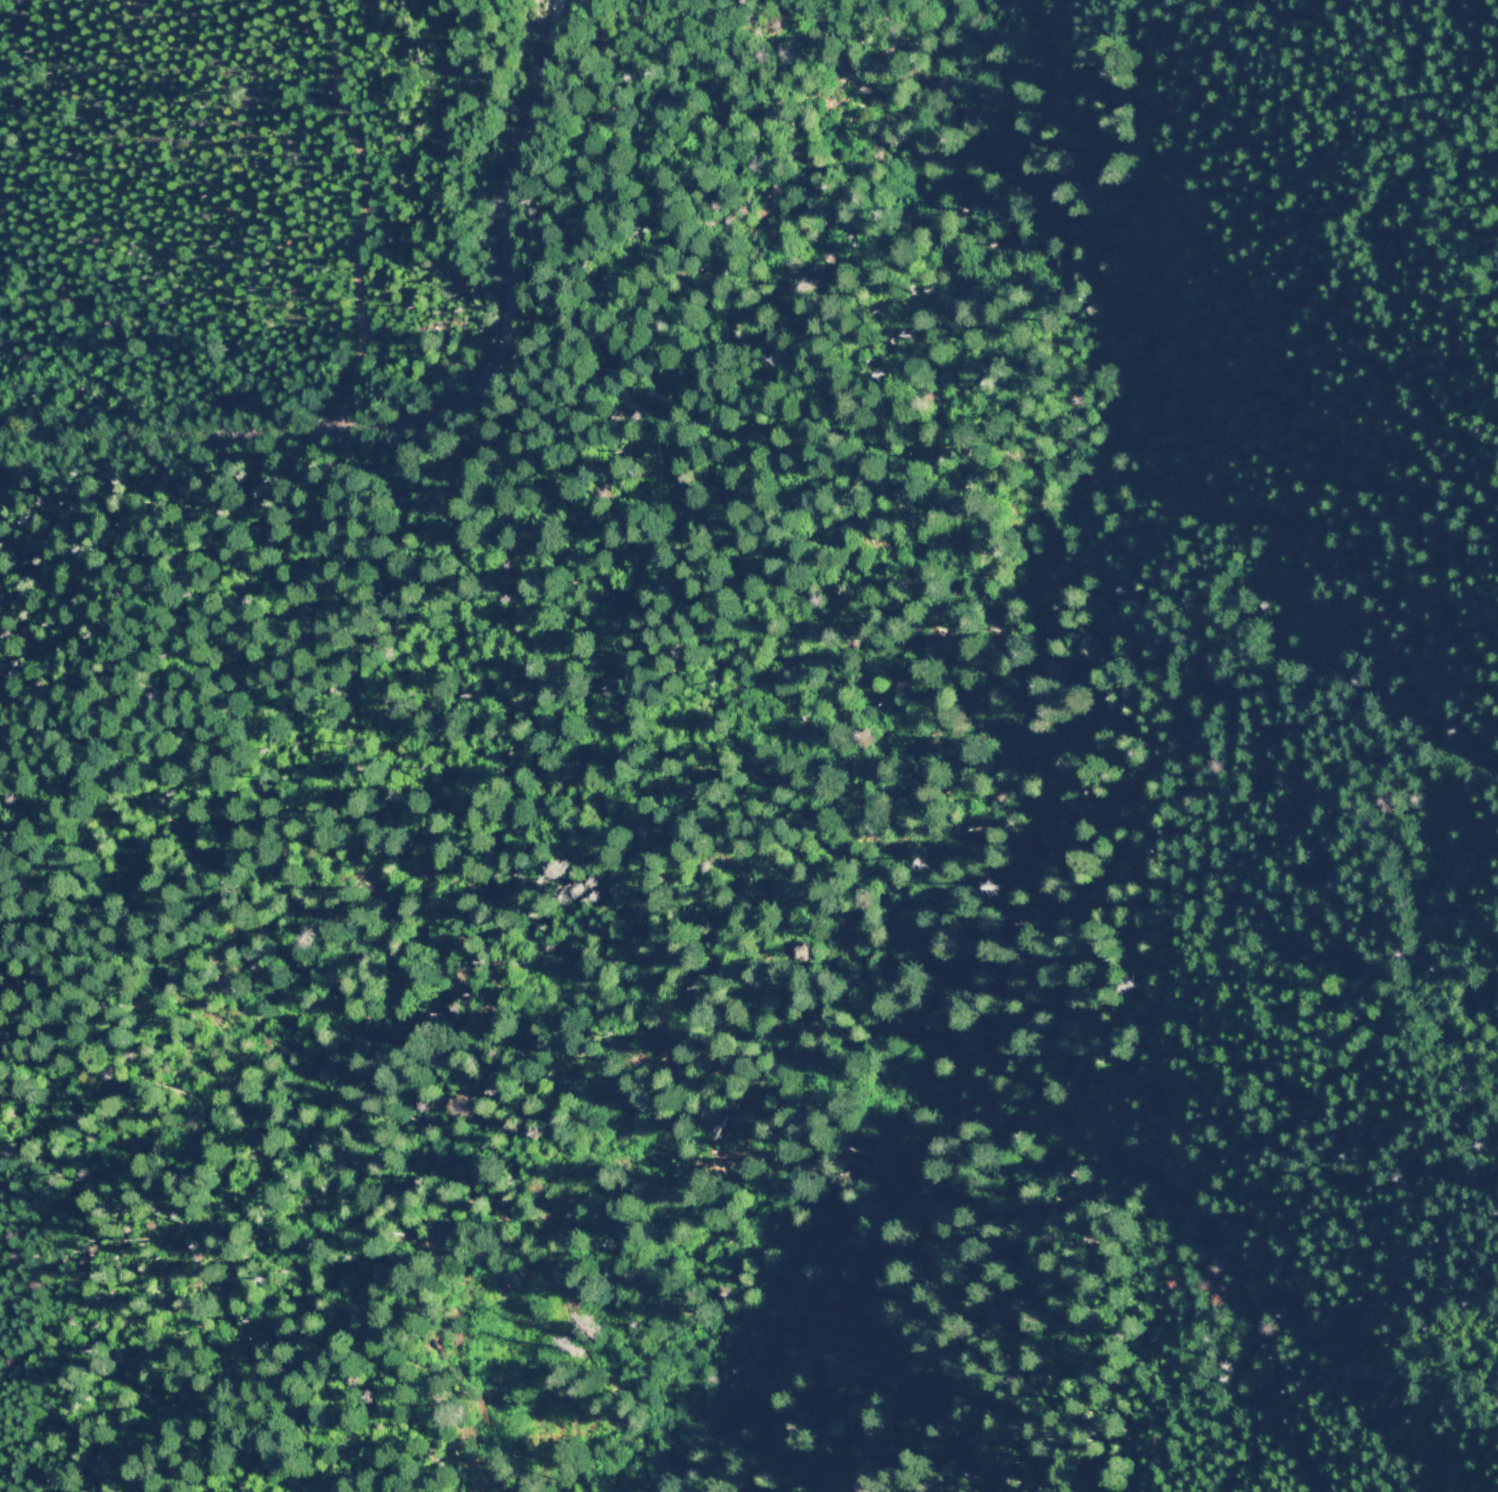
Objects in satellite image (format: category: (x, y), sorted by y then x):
road: (323, 304)
road: (1401, 1247)

